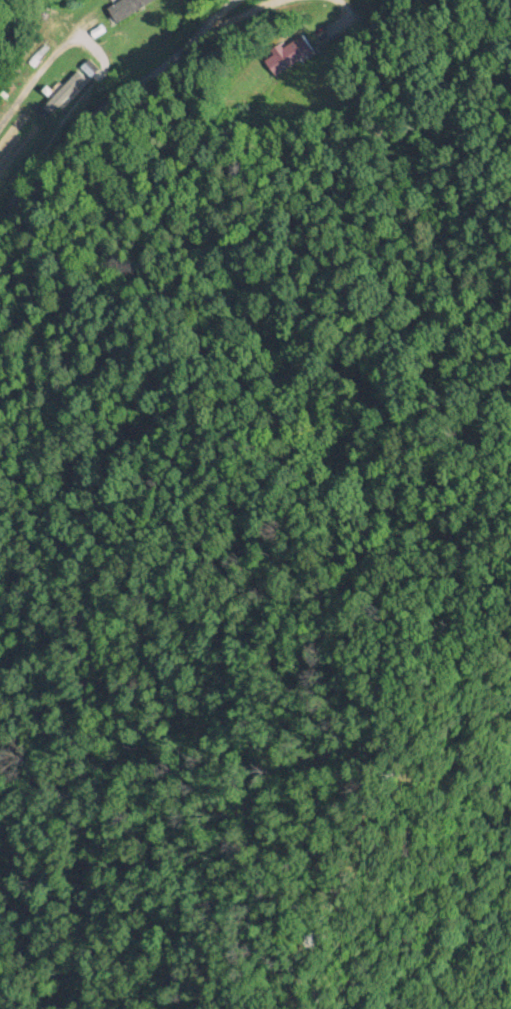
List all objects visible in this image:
road: (87, 65)

